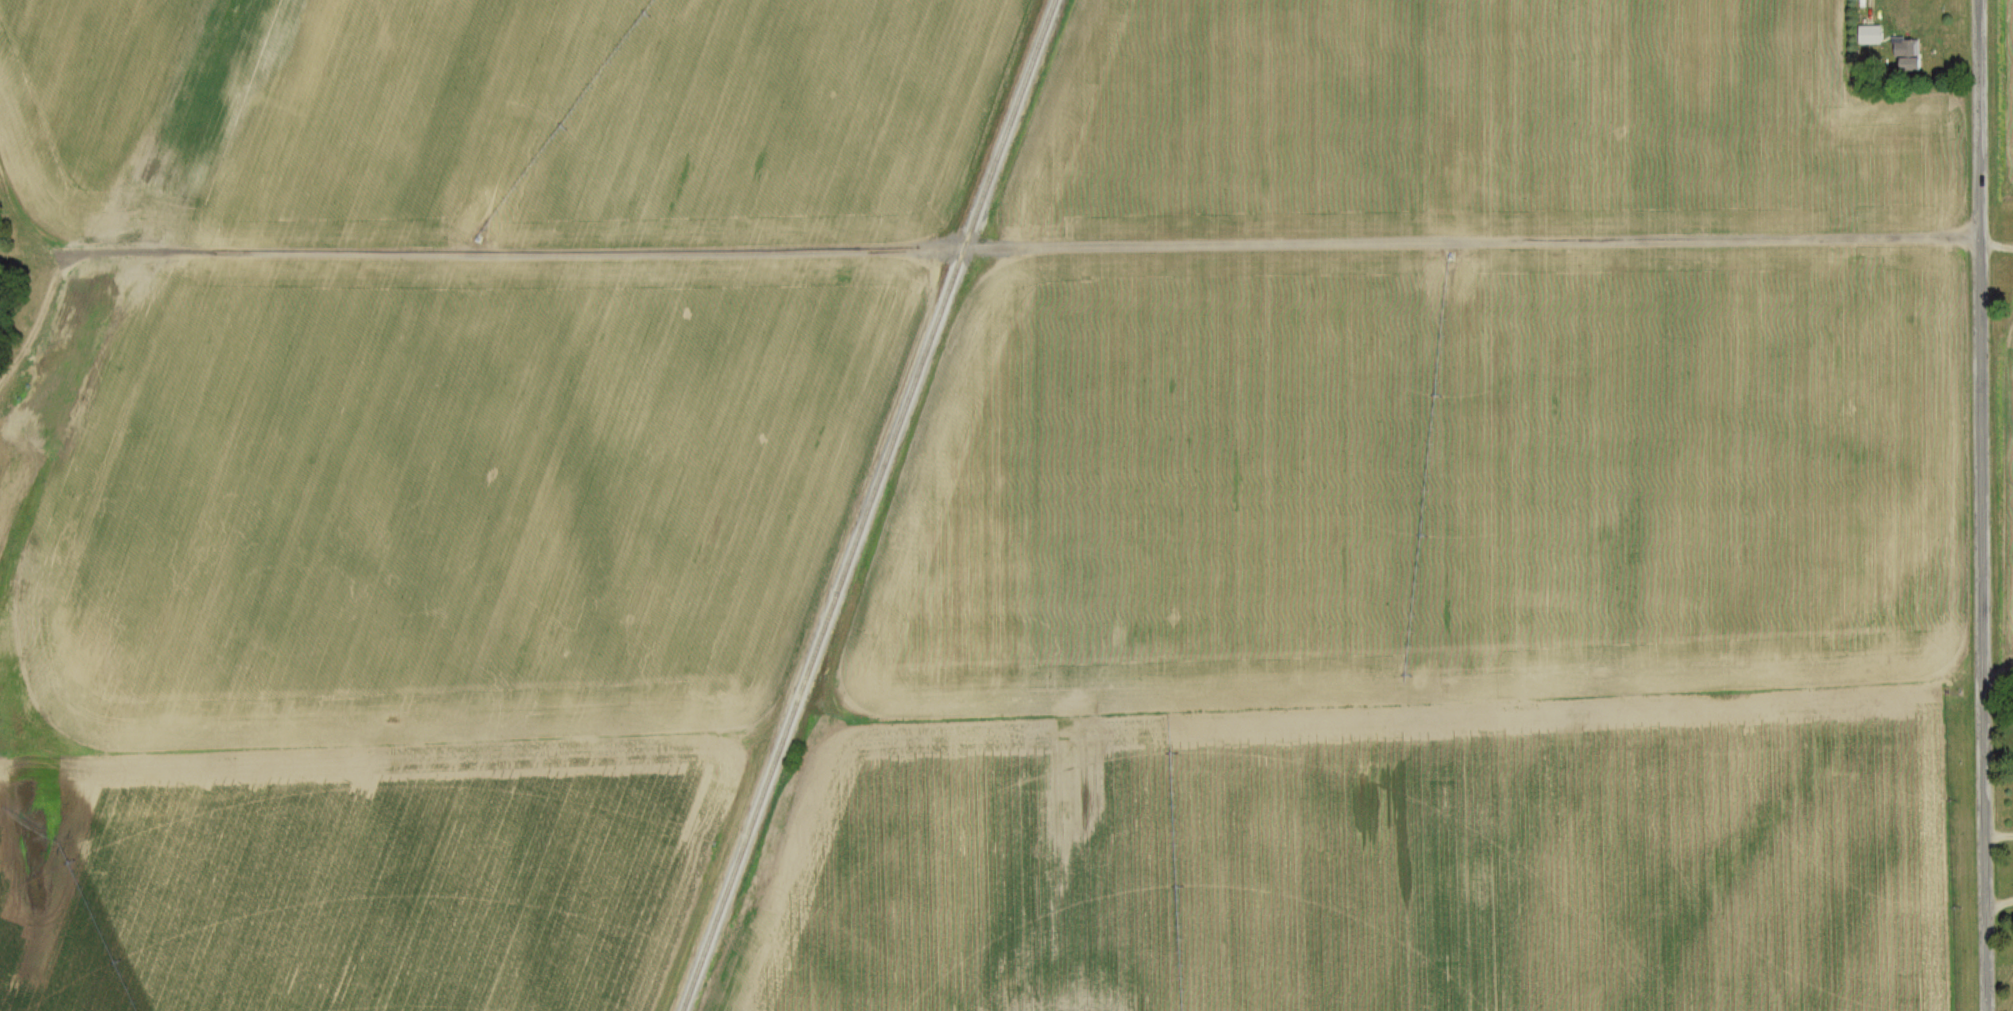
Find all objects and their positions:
building: (1867, 36)
building: (1903, 55)
road: (1996, 243)
road: (923, 252)
railway: (870, 505)
road: (1979, 505)
road: (1998, 833)
road: (1998, 905)

